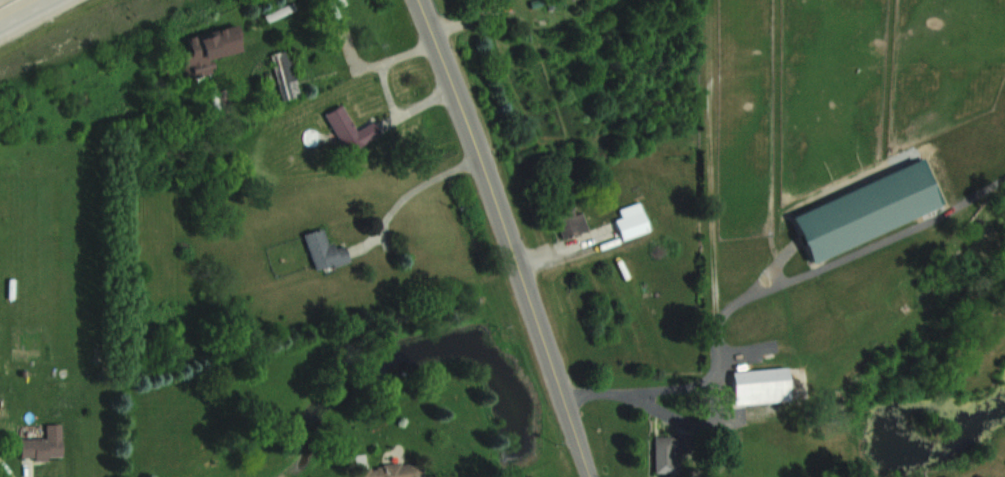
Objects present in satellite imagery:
road: (26, 13)
building: (208, 49)
building: (284, 74)
building: (350, 129)
road: (411, 190)
building: (864, 210)
building: (568, 220)
building: (630, 224)
road: (508, 237)
building: (324, 250)
road: (765, 292)
building: (760, 386)
building: (42, 443)
building: (663, 454)
building: (385, 470)

